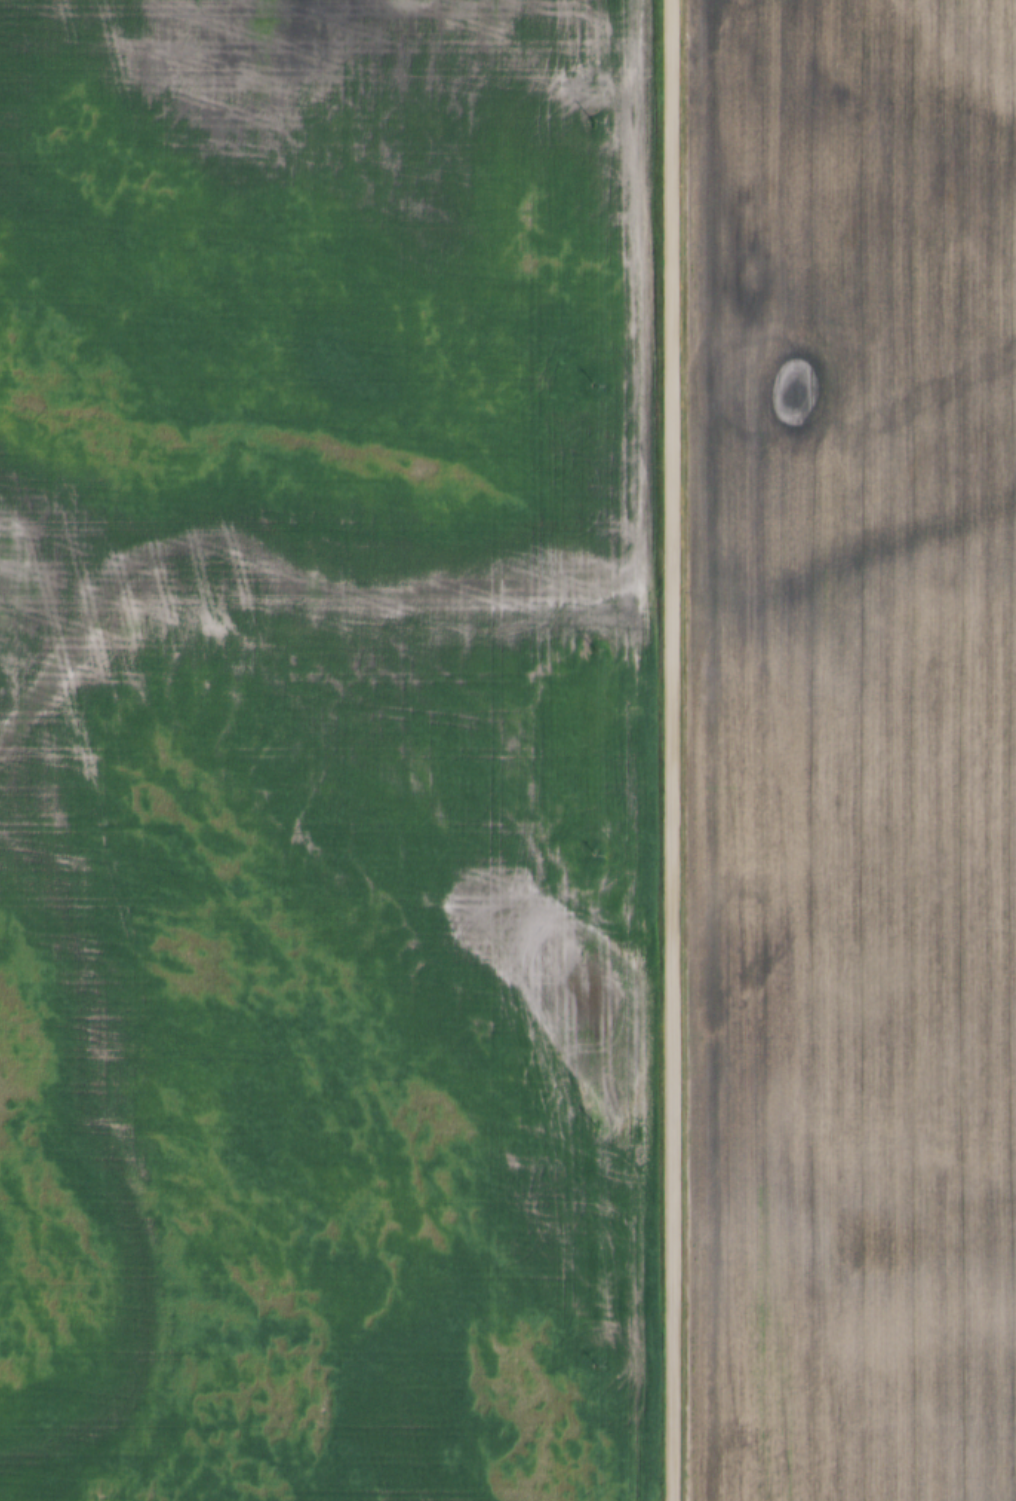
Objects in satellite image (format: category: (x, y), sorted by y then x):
road: (668, 750)

